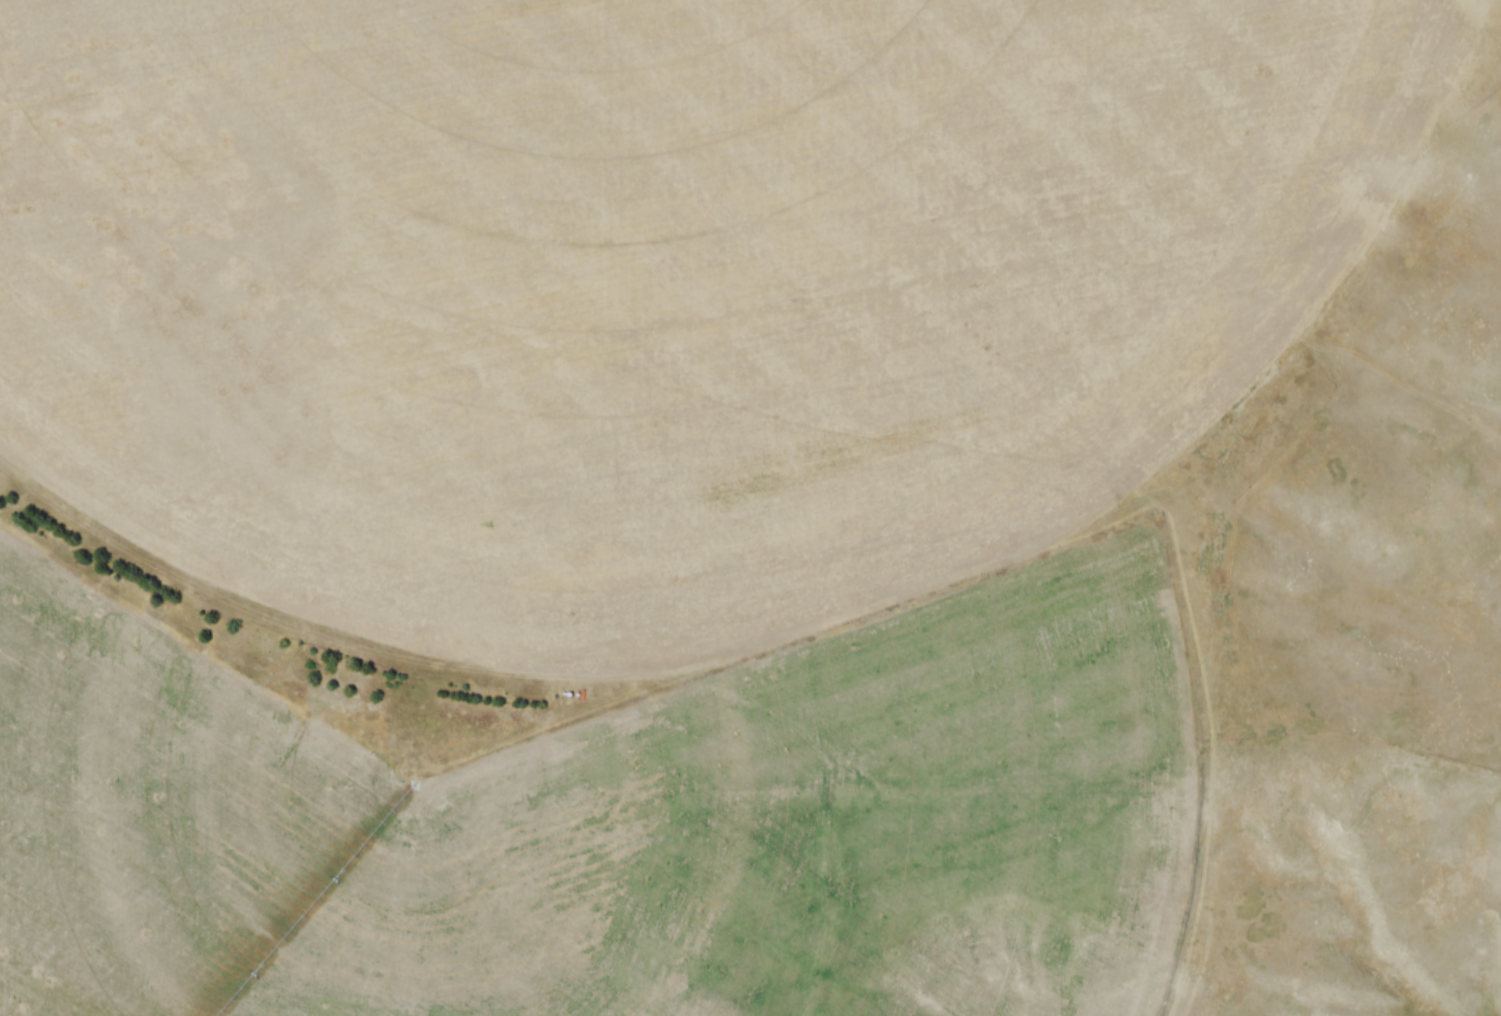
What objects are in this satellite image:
crop: (655, 281)

